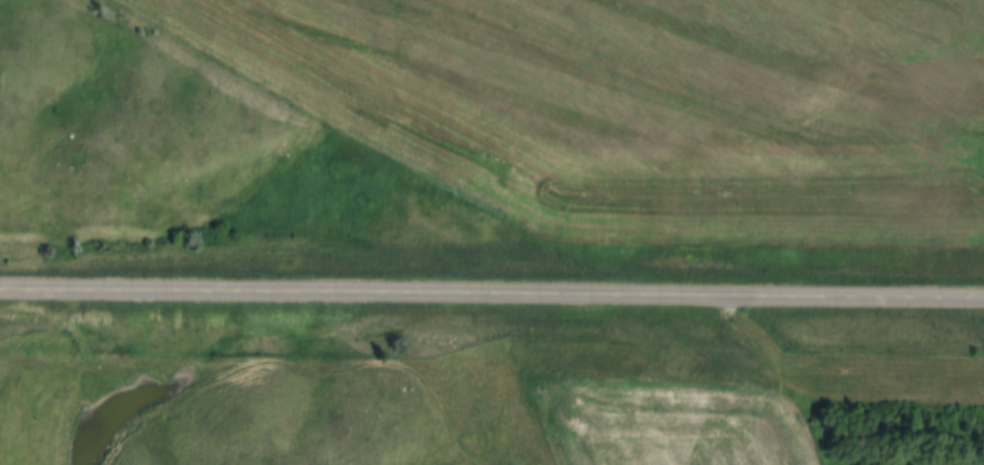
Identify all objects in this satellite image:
road: (492, 293)

